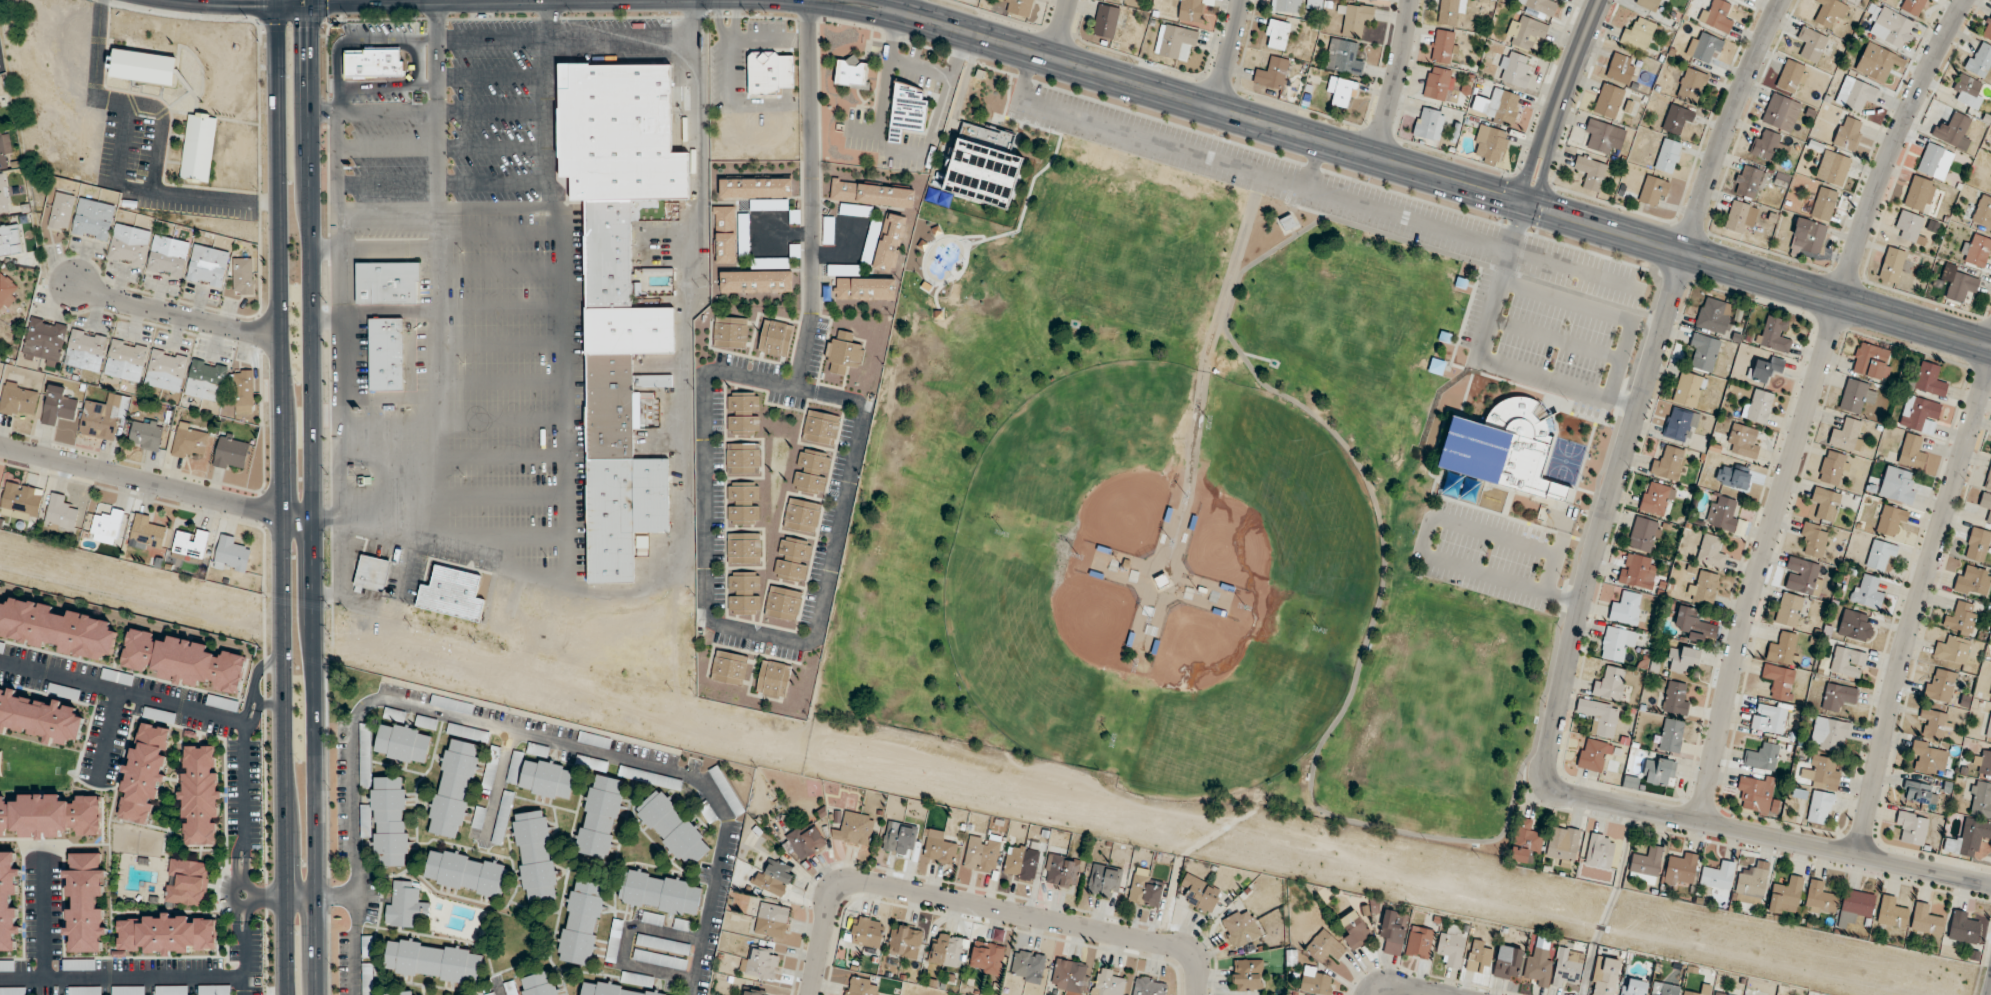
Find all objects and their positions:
building: (1126, 0)
building: (1742, 0)
building: (1648, 4)
road: (893, 5)
building: (1018, 6)
building: (1286, 6)
building: (1540, 6)
building: (1912, 6)
building: (1190, 10)
building: (1450, 11)
building: (1828, 12)
building: (1716, 15)
building: (1355, 18)
building: (1105, 21)
building: (1890, 25)
traffic signals: (309, 28)
road: (1061, 28)
building: (1526, 32)
building: (1276, 34)
building: (1638, 34)
road: (621, 37)
road: (510, 38)
building: (1175, 42)
building: (1811, 44)
building: (1443, 46)
building: (1704, 46)
road: (1229, 54)
road: (309, 56)
building: (1343, 57)
building: (1979, 59)
road: (95, 61)
building: (375, 62)
building: (1874, 62)
building: (142, 65)
road: (918, 66)
building: (1620, 68)
building: (1514, 69)
road: (884, 70)
building: (769, 72)
building: (851, 72)
building: (1272, 73)
building: (1792, 76)
road: (1395, 79)
building: (1438, 83)
building: (1691, 85)
building: (1968, 90)
building: (1341, 91)
building: (1856, 95)
building: (1609, 100)
road: (1560, 101)
building: (1496, 105)
road: (938, 107)
building: (907, 111)
road: (428, 112)
building: (1781, 112)
building: (1676, 118)
building: (1428, 123)
building: (1954, 130)
building: (619, 132)
building: (1847, 133)
road: (160, 134)
building: (1603, 135)
road: (1016, 137)
building: (1491, 144)
building: (1768, 145)
building: (4, 146)
building: (198, 147)
building: (1668, 155)
road: (1039, 161)
building: (1934, 161)
building: (983, 166)
building: (1837, 169)
road: (1331, 171)
road: (1418, 171)
building: (1590, 172)
road: (335, 181)
building: (1749, 182)
building: (758, 186)
building: (1652, 190)
road: (810, 192)
building: (1917, 192)
road: (154, 193)
building: (4, 194)
building: (872, 194)
building: (128, 203)
building: (1824, 203)
traffic signals: (1528, 205)
building: (61, 210)
building: (1740, 216)
building: (93, 219)
building: (1287, 223)
building: (1909, 225)
building: (724, 235)
building: (743, 235)
building: (1808, 236)
building: (10, 240)
building: (889, 242)
building: (128, 245)
building: (610, 250)
building: (1976, 250)
building: (168, 255)
road: (337, 261)
building: (208, 266)
building: (1891, 266)
building: (243, 275)
building: (755, 281)
building: (387, 282)
building: (1959, 283)
building: (865, 288)
building: (6, 291)
road: (382, 309)
road: (176, 313)
building: (1713, 315)
road: (324, 320)
road: (1461, 325)
building: (630, 330)
building: (730, 332)
building: (1773, 333)
building: (774, 338)
building: (44, 340)
road: (1211, 343)
building: (85, 350)
building: (1703, 351)
building: (843, 353)
building: (385, 354)
building: (125, 360)
building: (1871, 361)
building: (1436, 366)
building: (1766, 369)
building: (165, 370)
road: (725, 372)
building: (1929, 379)
building: (206, 380)
building: (243, 387)
road: (1528, 388)
road: (1643, 388)
building: (1688, 388)
building: (1856, 395)
building: (18, 400)
road: (1808, 403)
building: (1758, 405)
building: (57, 406)
building: (609, 406)
building: (743, 413)
building: (1919, 414)
building: (102, 415)
building: (1680, 424)
building: (820, 428)
building: (145, 434)
building: (1847, 435)
building: (188, 440)
building: (1743, 440)
building: (1506, 447)
building: (1913, 453)
building: (230, 454)
building: (742, 458)
building: (1668, 463)
road: (1581, 464)
building: (1832, 467)
park: (1227, 471)
building: (811, 472)
building: (1733, 476)
road: (683, 477)
road: (155, 484)
building: (1897, 485)
road: (1497, 487)
road: (1530, 496)
road: (279, 497)
road: (1445, 498)
building: (1656, 498)
building: (21, 501)
building: (742, 502)
building: (1825, 503)
road: (1566, 504)
building: (60, 513)
building: (623, 513)
building: (1723, 513)
building: (801, 516)
building: (1891, 521)
building: (106, 527)
building: (146, 533)
building: (1643, 534)
building: (1814, 538)
building: (189, 544)
building: (1977, 544)
building: (743, 548)
building: (1711, 553)
road: (312, 554)
building: (1880, 554)
building: (231, 555)
building: (792, 559)
road: (338, 569)
building: (1636, 571)
building: (372, 572)
building: (1802, 576)
building: (1973, 580)
building: (1703, 587)
building: (1866, 591)
building: (453, 592)
building: (743, 593)
building: (782, 603)
road: (1915, 606)
building: (1626, 608)
building: (1788, 609)
building: (1961, 618)
building: (1690, 623)
building: (1855, 626)
building: (56, 629)
building: (1616, 644)
building: (1782, 648)
building: (1953, 649)
building: (1681, 660)
building: (183, 661)
building: (1847, 661)
building: (730, 668)
building: (773, 678)
building: (1778, 680)
building: (1610, 684)
building: (1940, 684)
building: (65, 692)
building: (1839, 696)
road: (256, 697)
building: (1990, 698)
building: (1676, 699)
building: (221, 703)
road: (177, 704)
building: (450, 704)
road: (245, 707)
building: (159, 714)
building: (1599, 716)
building: (1769, 716)
building: (39, 718)
building: (1936, 723)
road: (107, 734)
building: (1829, 734)
building: (1671, 735)
building: (1990, 735)
road: (549, 737)
building: (403, 744)
building: (1593, 755)
building: (1762, 756)
building: (1929, 757)
building: (0, 763)
building: (1659, 771)
building: (1820, 772)
building: (144, 774)
building: (547, 779)
road: (499, 781)
building: (453, 788)
building: (1755, 792)
building: (1920, 793)
building: (200, 795)
building: (1819, 807)
building: (50, 816)
building: (599, 816)
building: (390, 821)
building: (1912, 827)
building: (854, 828)
building: (673, 829)
road: (1765, 836)
building: (899, 838)
building: (1969, 838)
road: (1492, 839)
road: (241, 840)
building: (806, 840)
building: (1526, 843)
building: (1563, 844)
building: (939, 847)
building: (1600, 851)
building: (982, 853)
building: (535, 857)
building: (1022, 862)
building: (1645, 865)
building: (1681, 870)
building: (1062, 871)
building: (465, 873)
building: (1718, 875)
building: (773, 877)
building: (1104, 880)
building: (186, 883)
building: (1751, 885)
building: (1145, 889)
road: (252, 891)
building: (660, 893)
building: (1199, 893)
building: (1786, 895)
road: (268, 897)
road: (337, 897)
road: (300, 898)
building: (1819, 899)
building: (9, 902)
road: (1609, 902)
building: (85, 903)
road: (980, 905)
building: (405, 906)
building: (1855, 906)
building: (1891, 913)
building: (652, 918)
building: (771, 920)
building: (1925, 920)
road: (42, 922)
building: (581, 923)
building: (681, 924)
building: (1964, 927)
building: (1240, 928)
building: (1393, 931)
building: (867, 932)
building: (1356, 932)
building: (166, 934)
road: (241, 940)
building: (614, 941)
building: (904, 941)
building: (1419, 942)
road: (625, 944)
building: (662, 944)
road: (355, 945)
building: (1324, 946)
building: (1451, 948)
building: (947, 950)
building: (1479, 957)
building: (986, 958)
building: (659, 959)
building: (1539, 960)
building: (433, 961)
building: (760, 962)
building: (78, 965)
building: (1508, 965)
building: (1028, 966)
road: (242, 967)
building: (1567, 967)
building: (1247, 974)
building: (1070, 976)
building: (1604, 976)
road: (121, 977)
building: (367, 979)
building: (1316, 981)
building: (1108, 983)
building: (539, 984)
building: (623, 986)
building: (861, 986)
building: (1149, 986)
road: (1412, 987)
building: (1633, 987)
building: (1705, 988)
building: (1664, 989)
building: (754, 992)
building: (401, 993)
building: (1720, 993)

